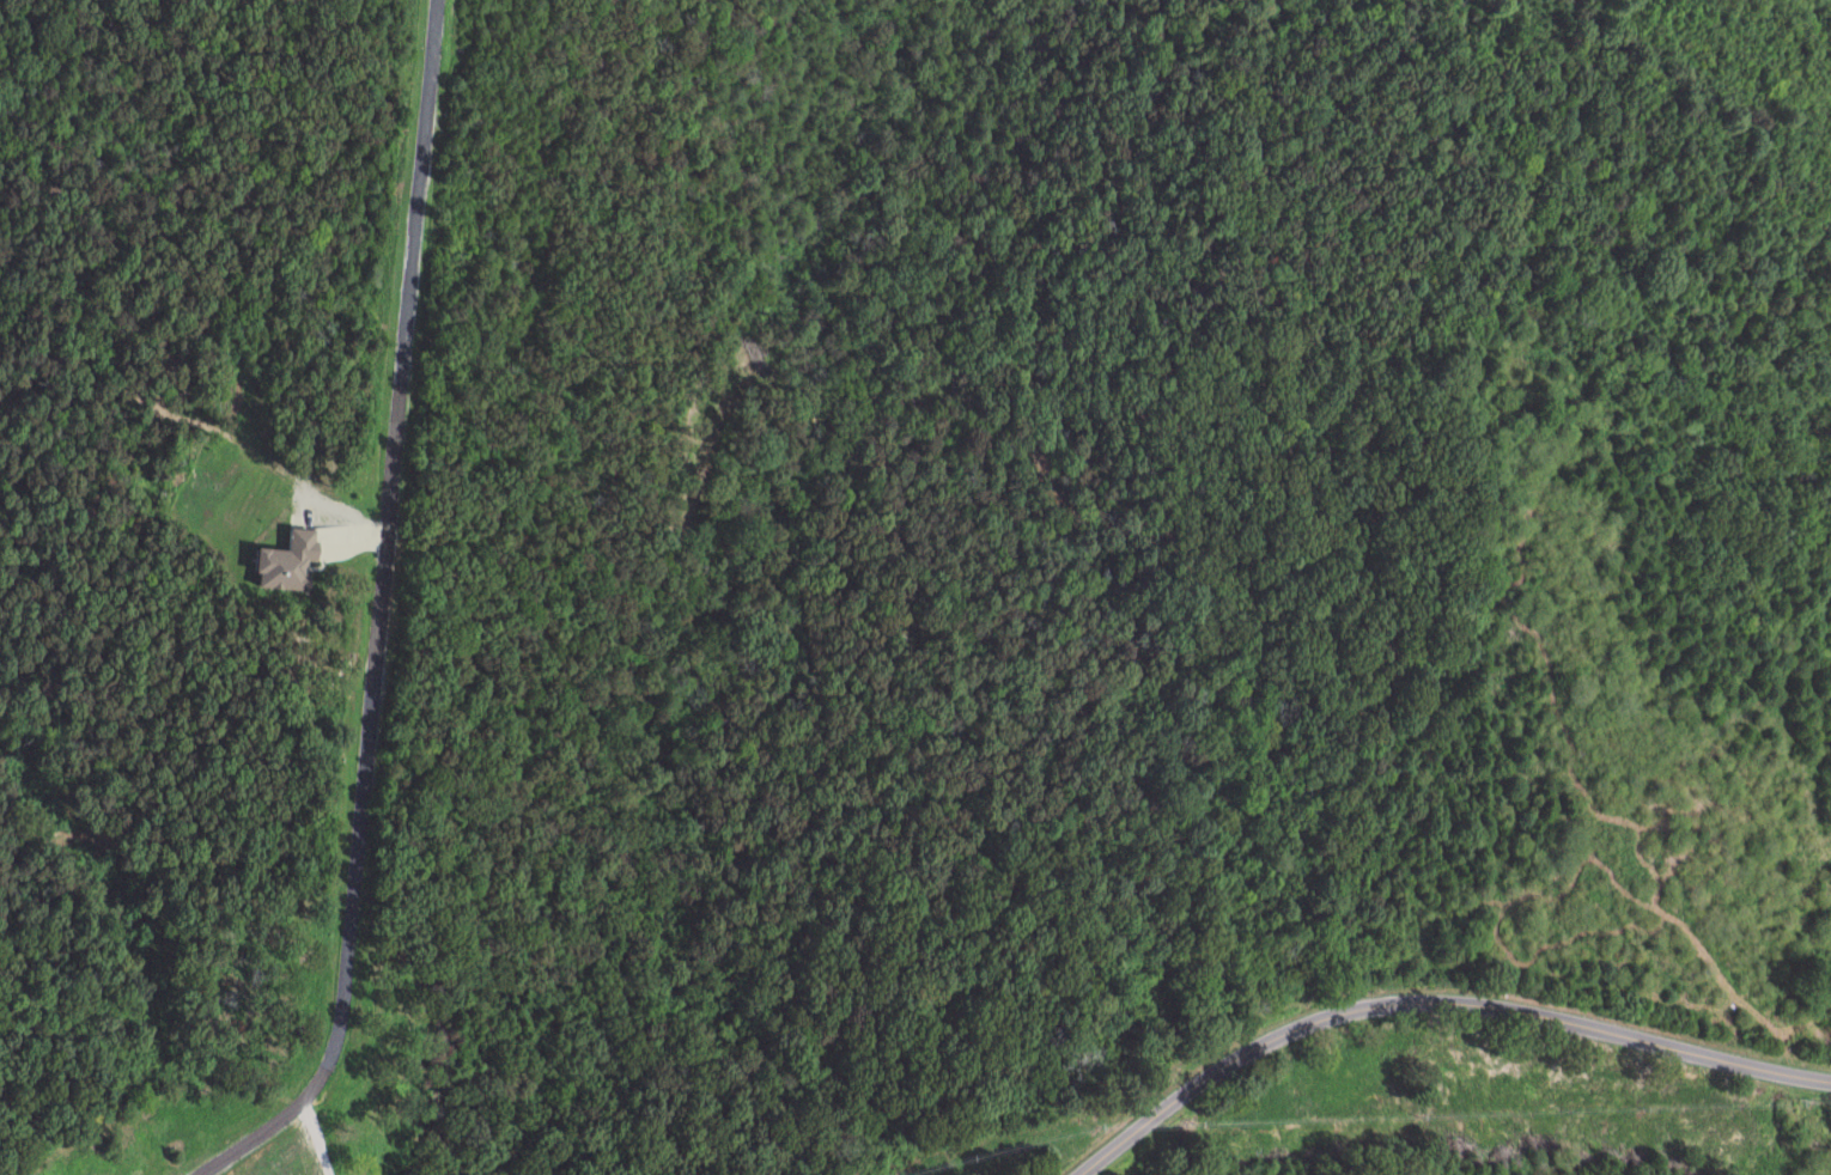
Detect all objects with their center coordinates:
building: (291, 562)
road: (381, 616)
road: (1435, 1003)
road: (316, 1140)

